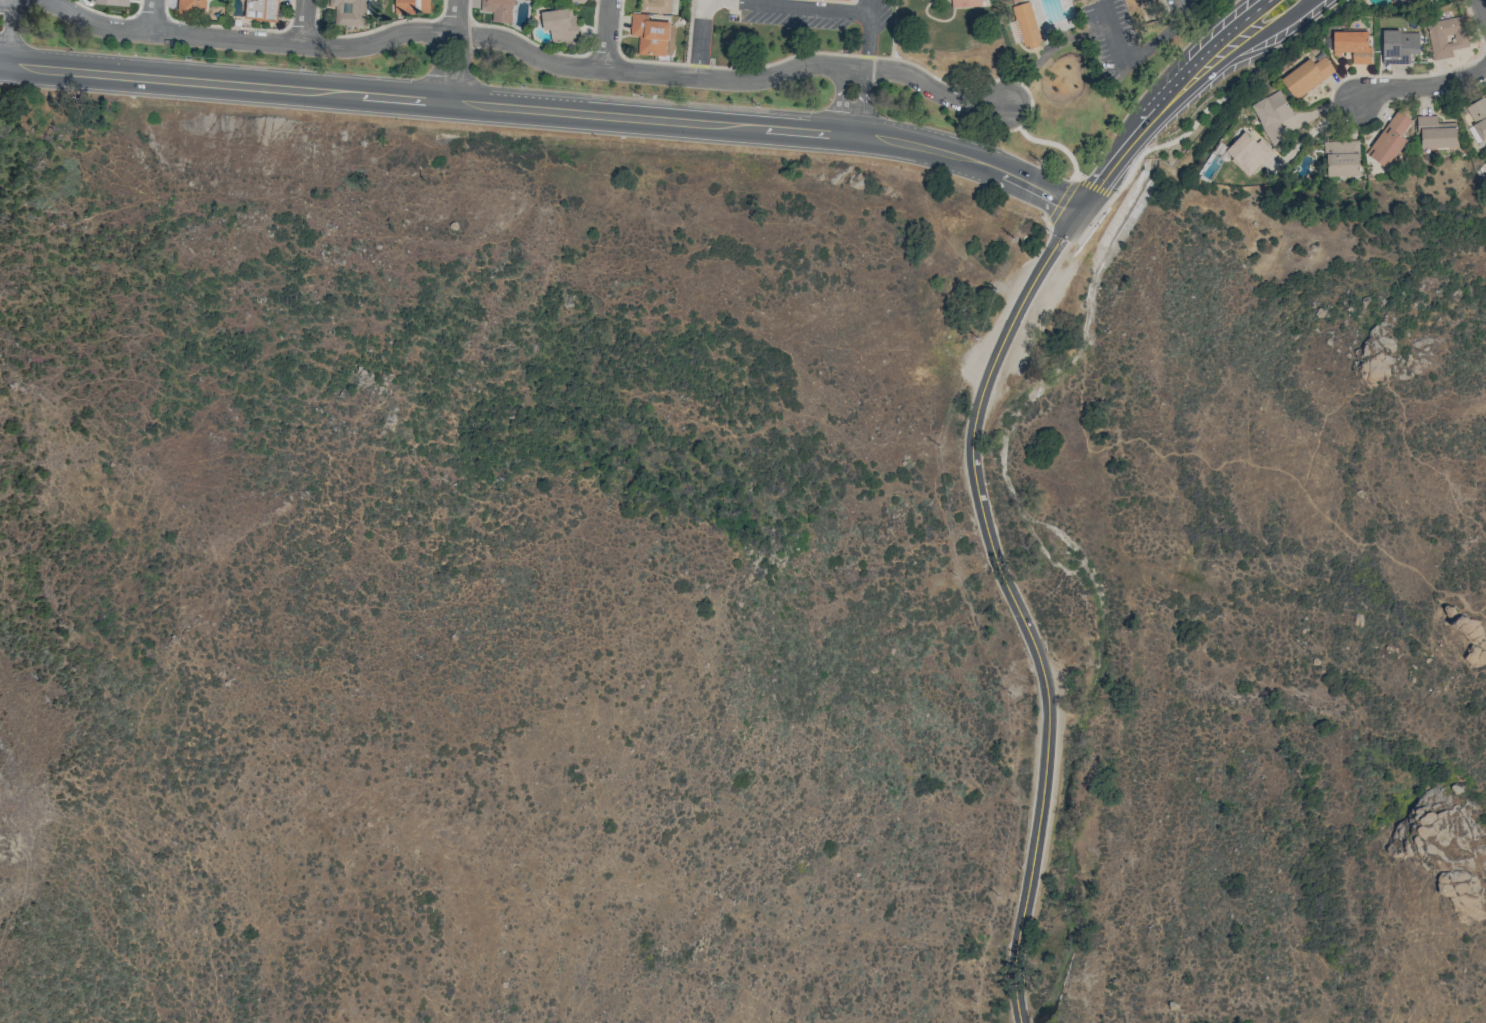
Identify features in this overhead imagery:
building: (846, 0)
building: (1401, 1)
building: (111, 2)
road: (0, 3)
building: (965, 3)
road: (1484, 4)
building: (191, 6)
building: (412, 6)
building: (659, 6)
road: (829, 7)
building: (262, 9)
building: (499, 9)
building: (349, 13)
road: (151, 16)
road: (1294, 16)
road: (302, 22)
building: (1026, 23)
building: (560, 24)
road: (607, 35)
building: (650, 35)
building: (1446, 36)
road: (700, 38)
building: (1352, 45)
road: (515, 46)
building: (1399, 46)
road: (1139, 54)
road: (452, 56)
road: (1197, 63)
building: (1306, 76)
road: (1202, 82)
road: (1421, 90)
road: (852, 95)
road: (1224, 96)
road: (548, 101)
road: (1011, 115)
building: (1272, 115)
building: (1478, 116)
road: (524, 119)
road: (1313, 129)
building: (1435, 132)
road: (849, 134)
building: (1389, 140)
road: (1055, 144)
building: (1247, 152)
building: (1341, 158)
road: (1107, 172)
road: (1093, 187)
road: (1062, 200)
road: (1059, 210)
traffic signals: (1079, 210)
road: (1180, 454)
road: (1009, 597)
road: (1464, 901)
road: (1018, 1014)

